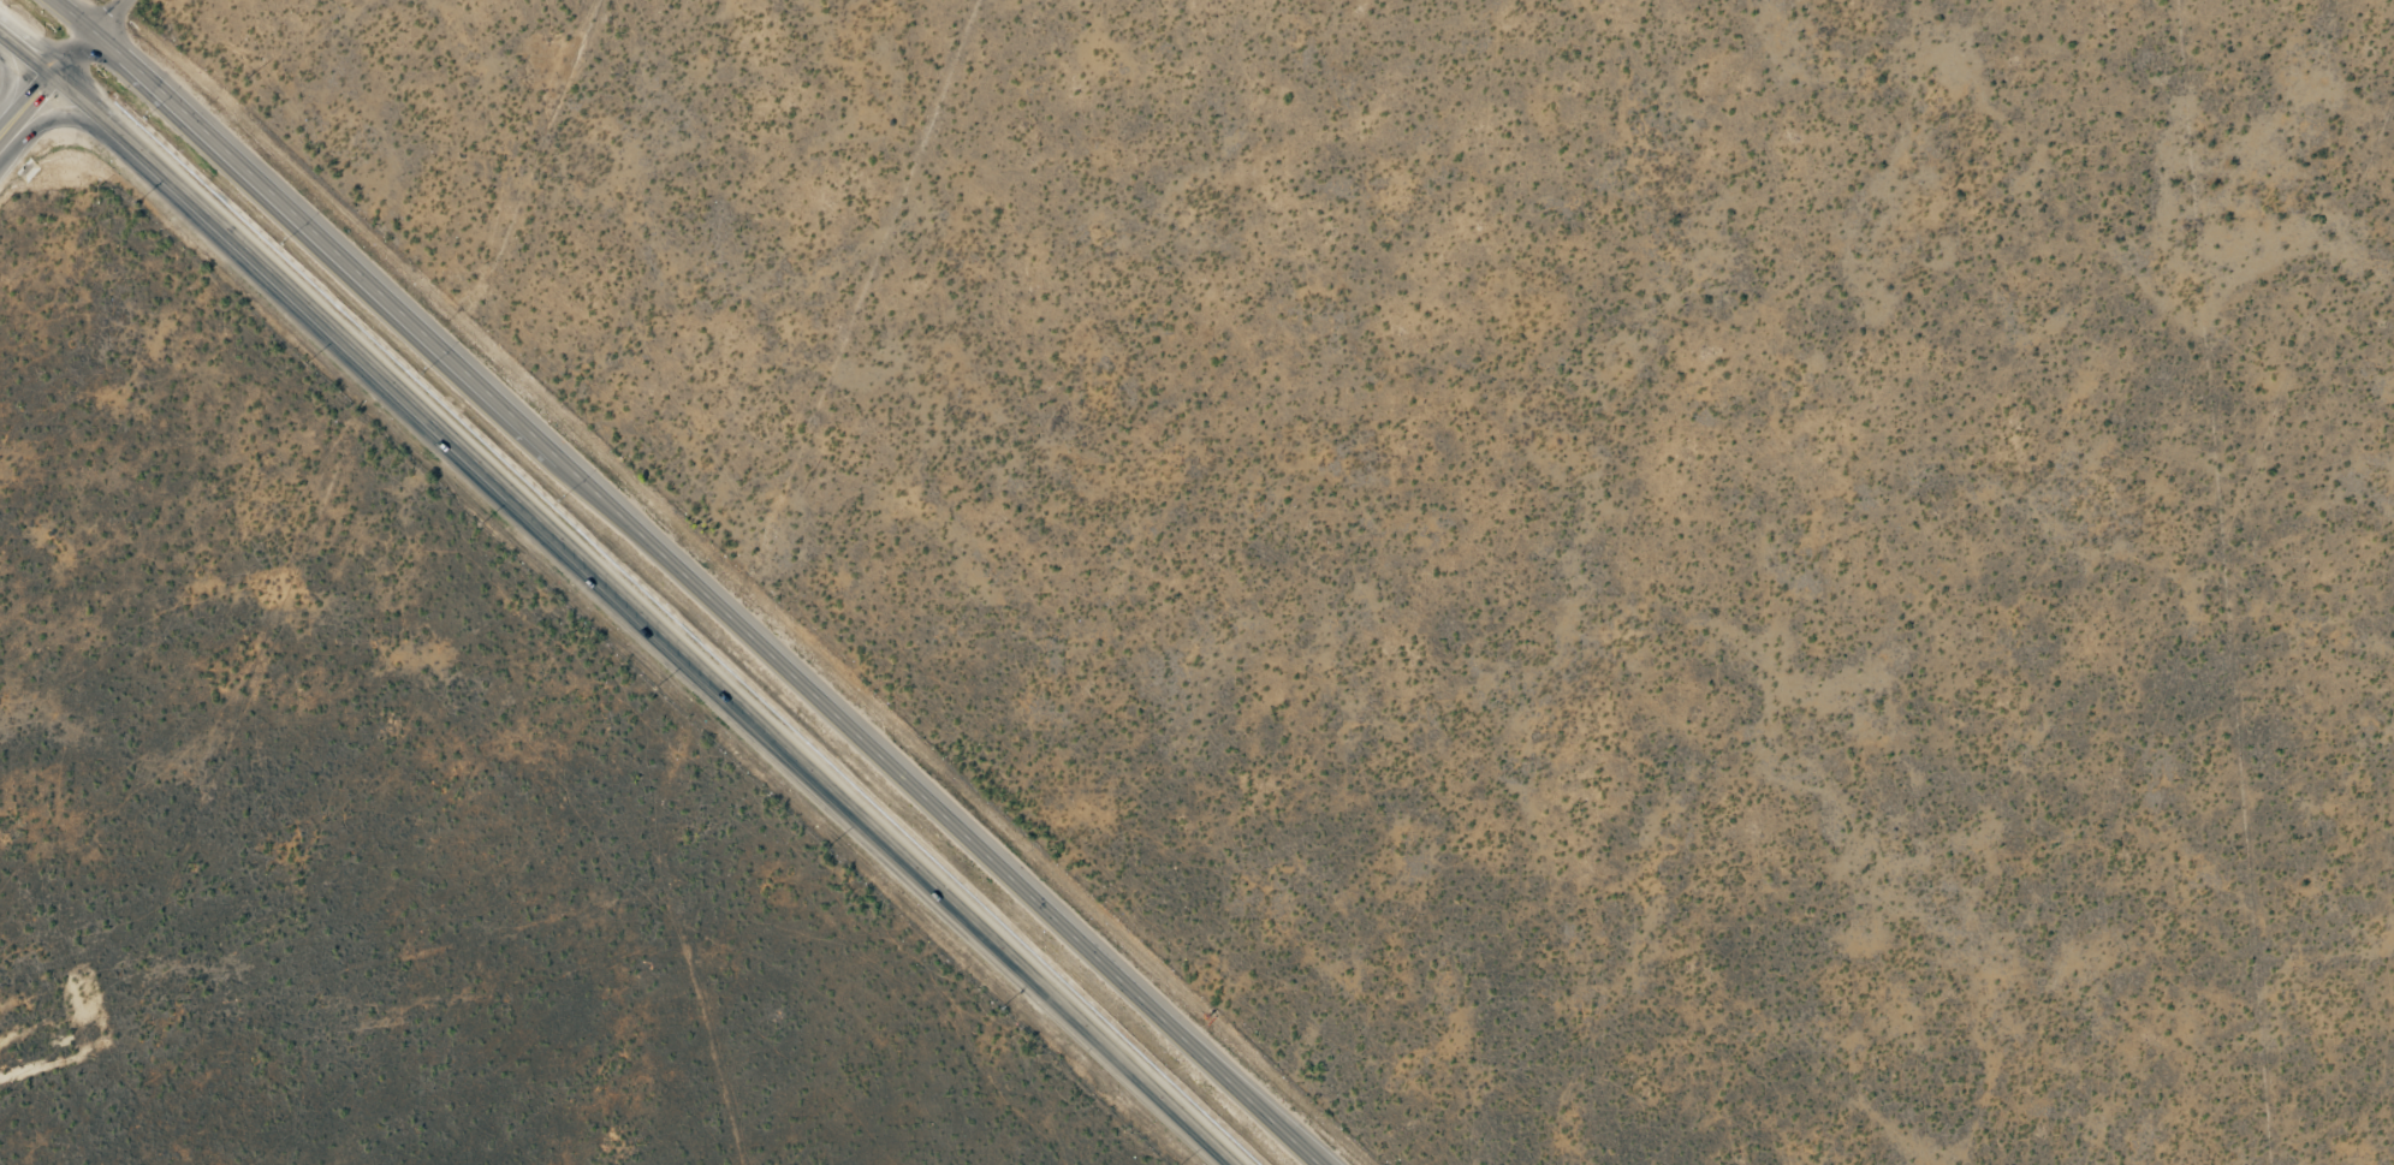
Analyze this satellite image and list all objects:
road: (109, 16)
road: (73, 54)
road: (0, 89)
road: (26, 106)
road: (55, 120)
road: (694, 579)
road: (622, 593)

